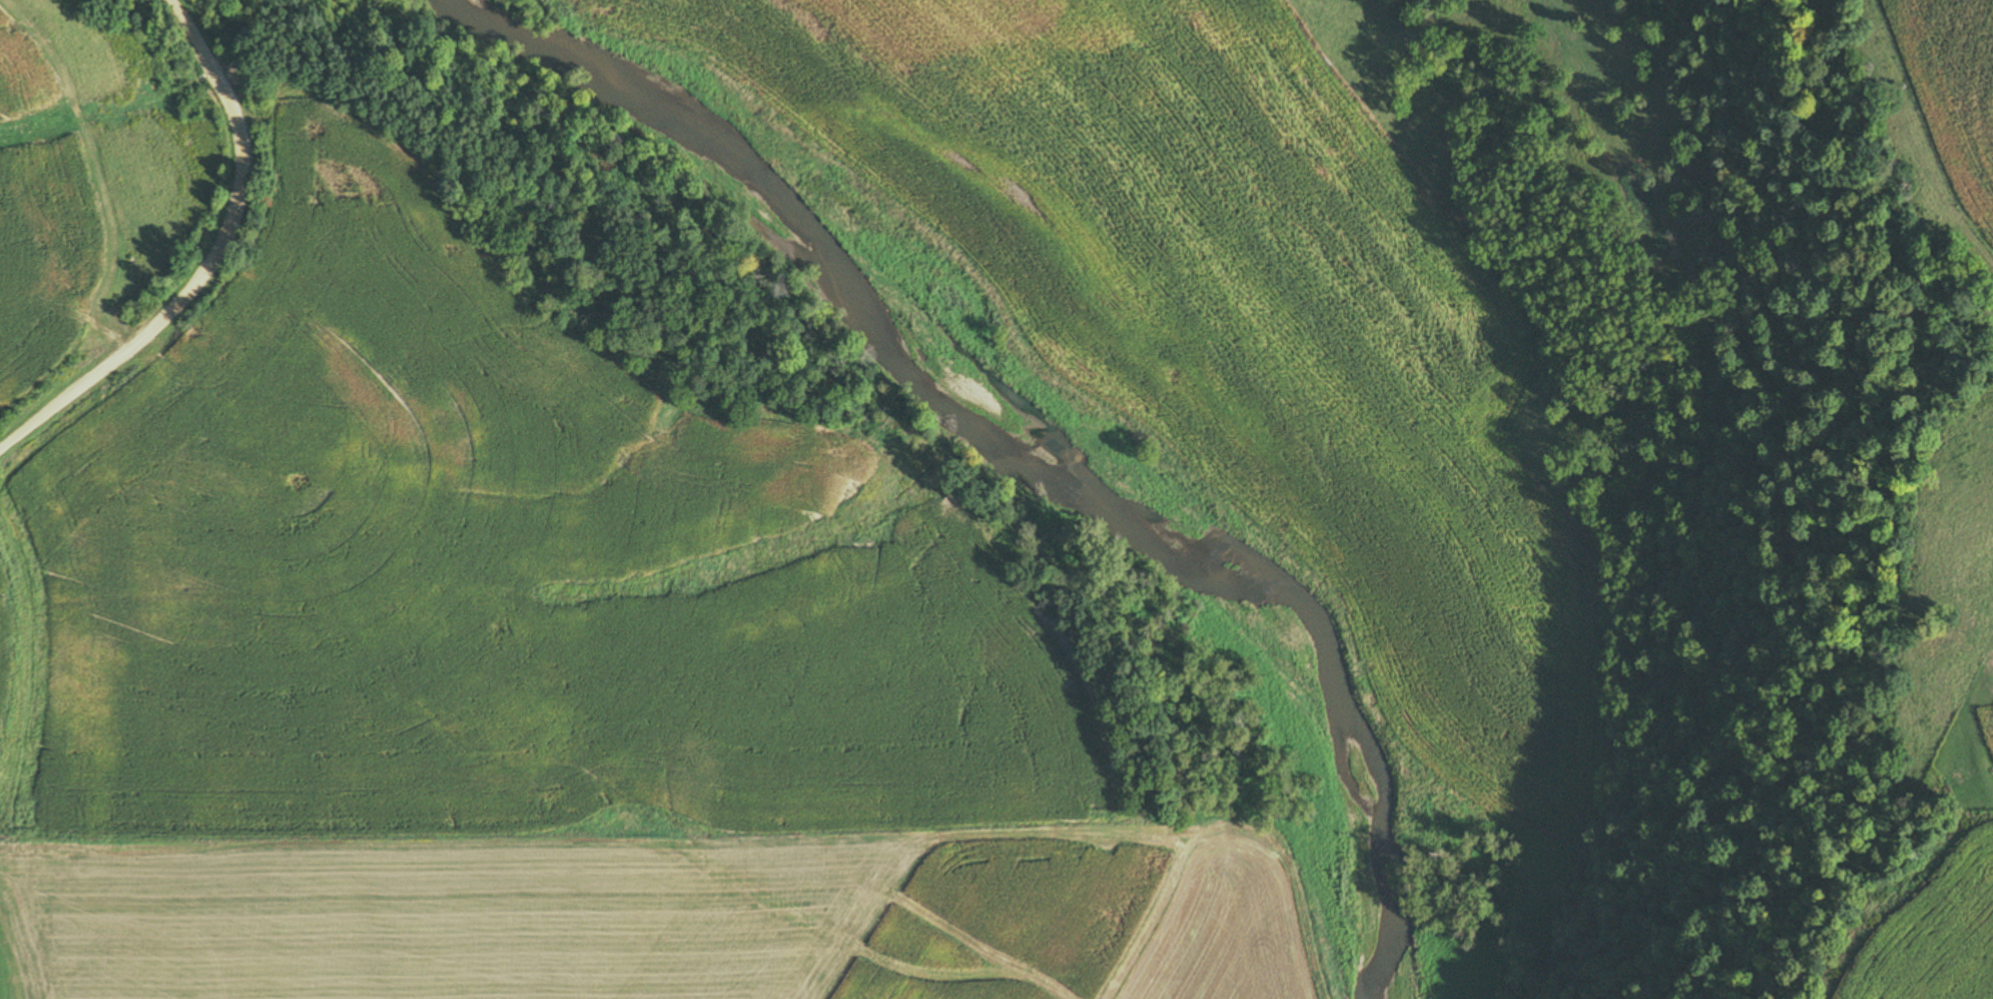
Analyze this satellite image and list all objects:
road: (211, 258)
river: (1040, 433)

